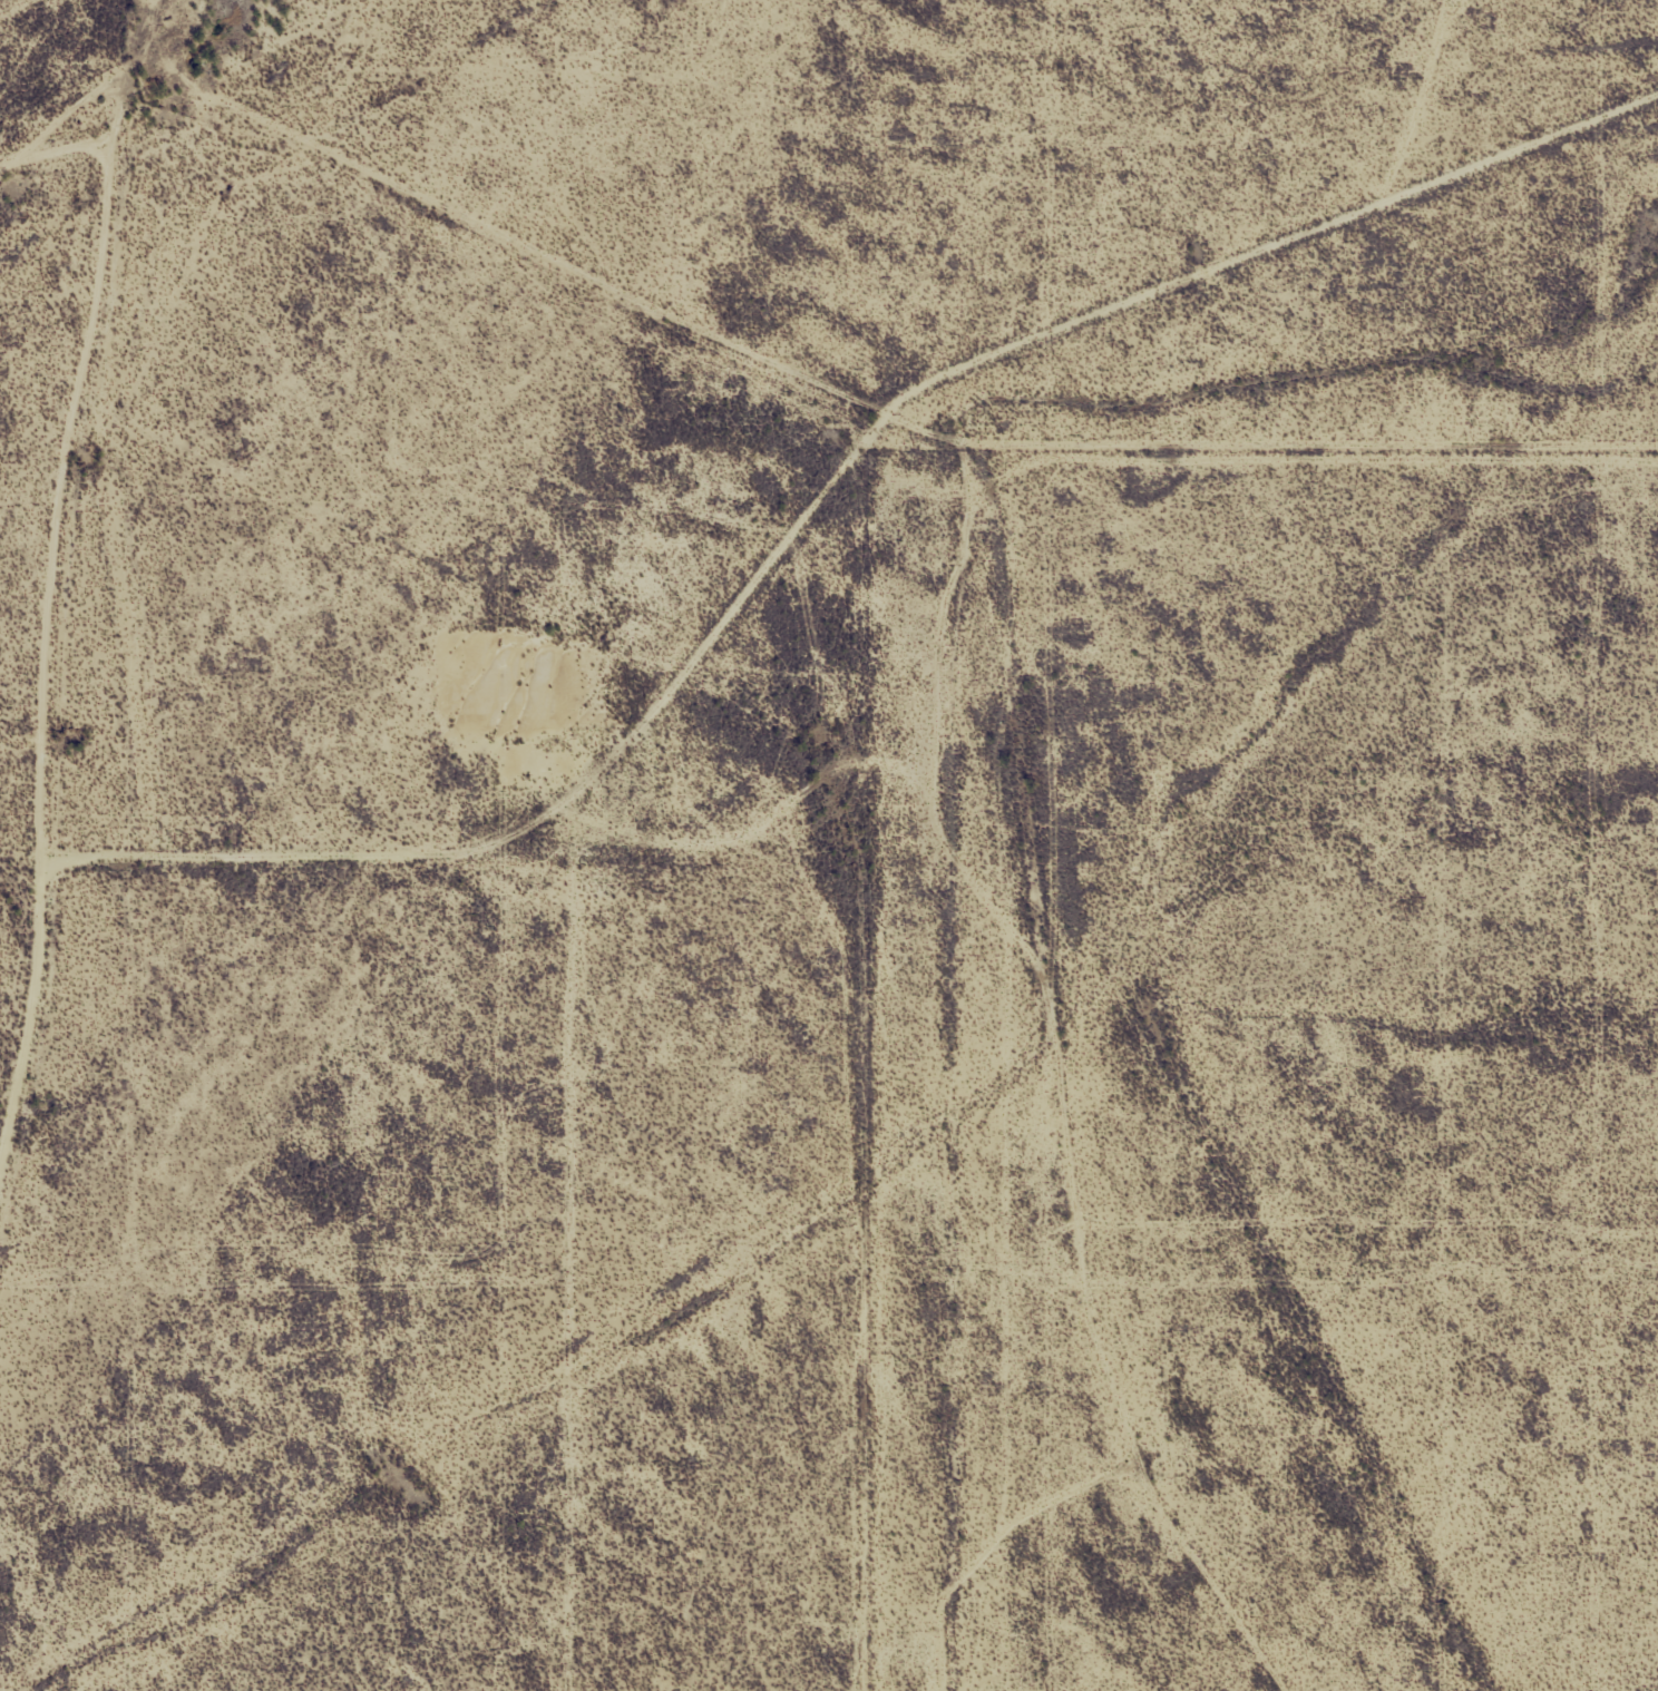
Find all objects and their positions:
road: (184, 47)
road: (64, 199)
road: (81, 619)
road: (868, 841)

